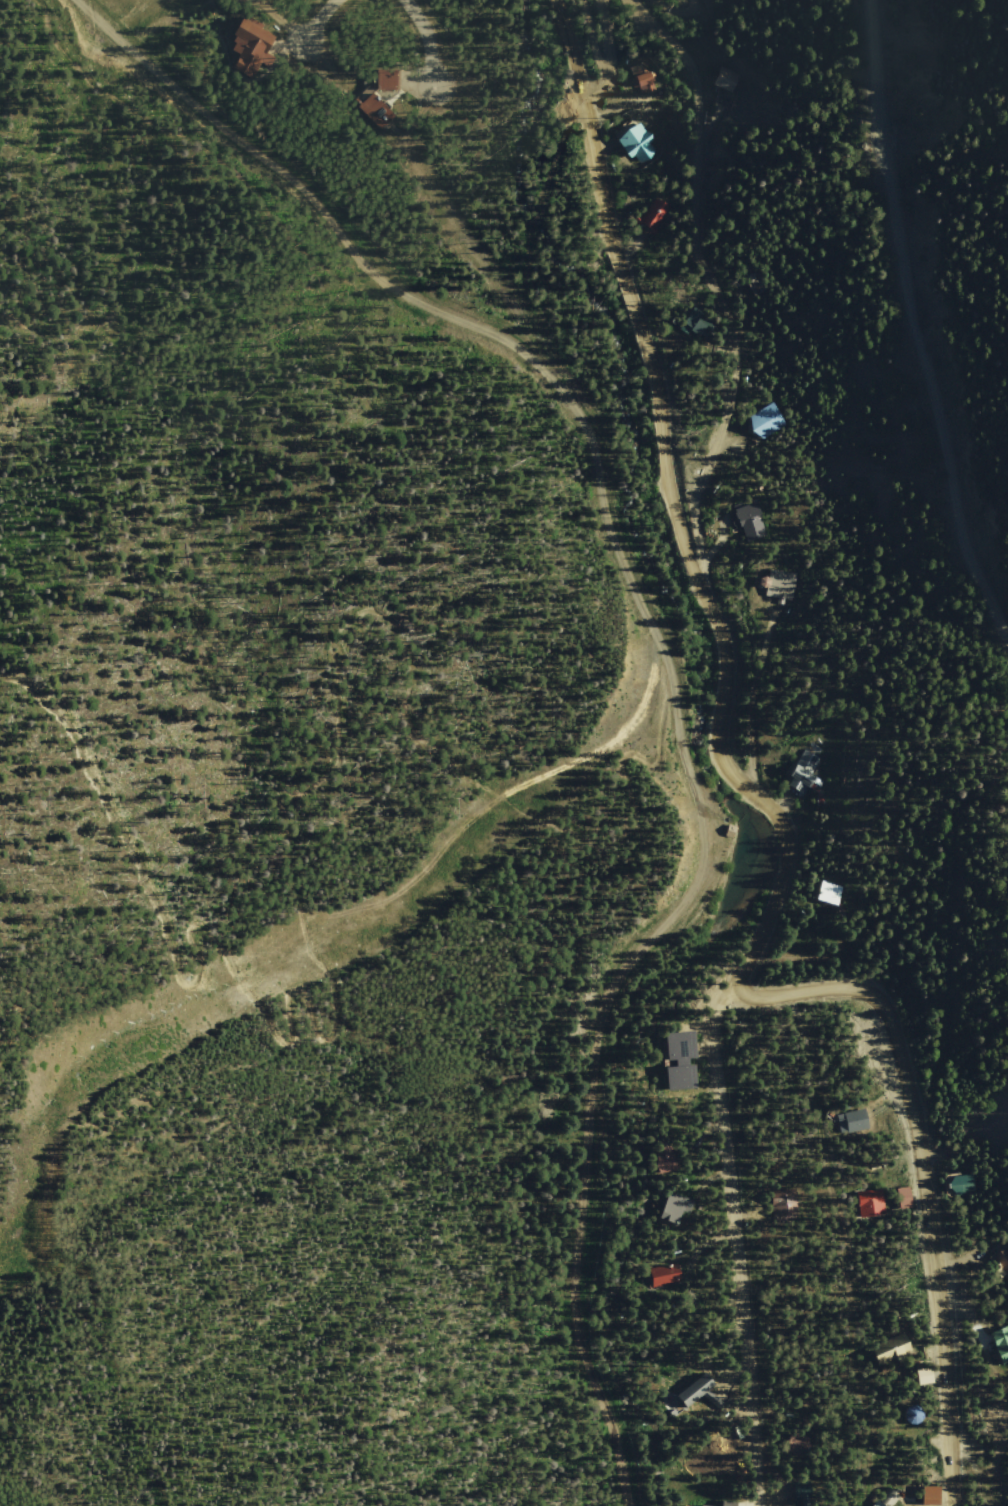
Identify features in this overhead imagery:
road: (318, 20)
road: (427, 43)
building: (252, 46)
road: (608, 54)
building: (386, 78)
building: (644, 79)
building: (727, 86)
building: (373, 111)
building: (639, 145)
building: (656, 216)
building: (758, 283)
road: (710, 284)
road: (917, 317)
building: (699, 327)
building: (767, 422)
road: (675, 506)
building: (751, 521)
building: (783, 584)
road: (671, 647)
building: (805, 773)
building: (730, 827)
ski resort: (309, 829)
building: (832, 893)
road: (330, 1052)
building: (676, 1060)
building: (854, 1122)
building: (661, 1158)
road: (923, 1172)
building: (962, 1185)
building: (905, 1198)
building: (785, 1205)
building: (871, 1205)
building: (677, 1209)
road: (834, 1227)
road: (734, 1237)
building: (1003, 1263)
building: (665, 1276)
building: (1002, 1345)
building: (889, 1349)
building: (895, 1357)
building: (925, 1379)
building: (683, 1397)
building: (1004, 1415)
building: (914, 1416)
storage tank: (914, 1416)
building: (799, 1446)
building: (738, 1466)
building: (803, 1491)
building: (927, 1495)
building: (730, 1503)
building: (691, 1505)

